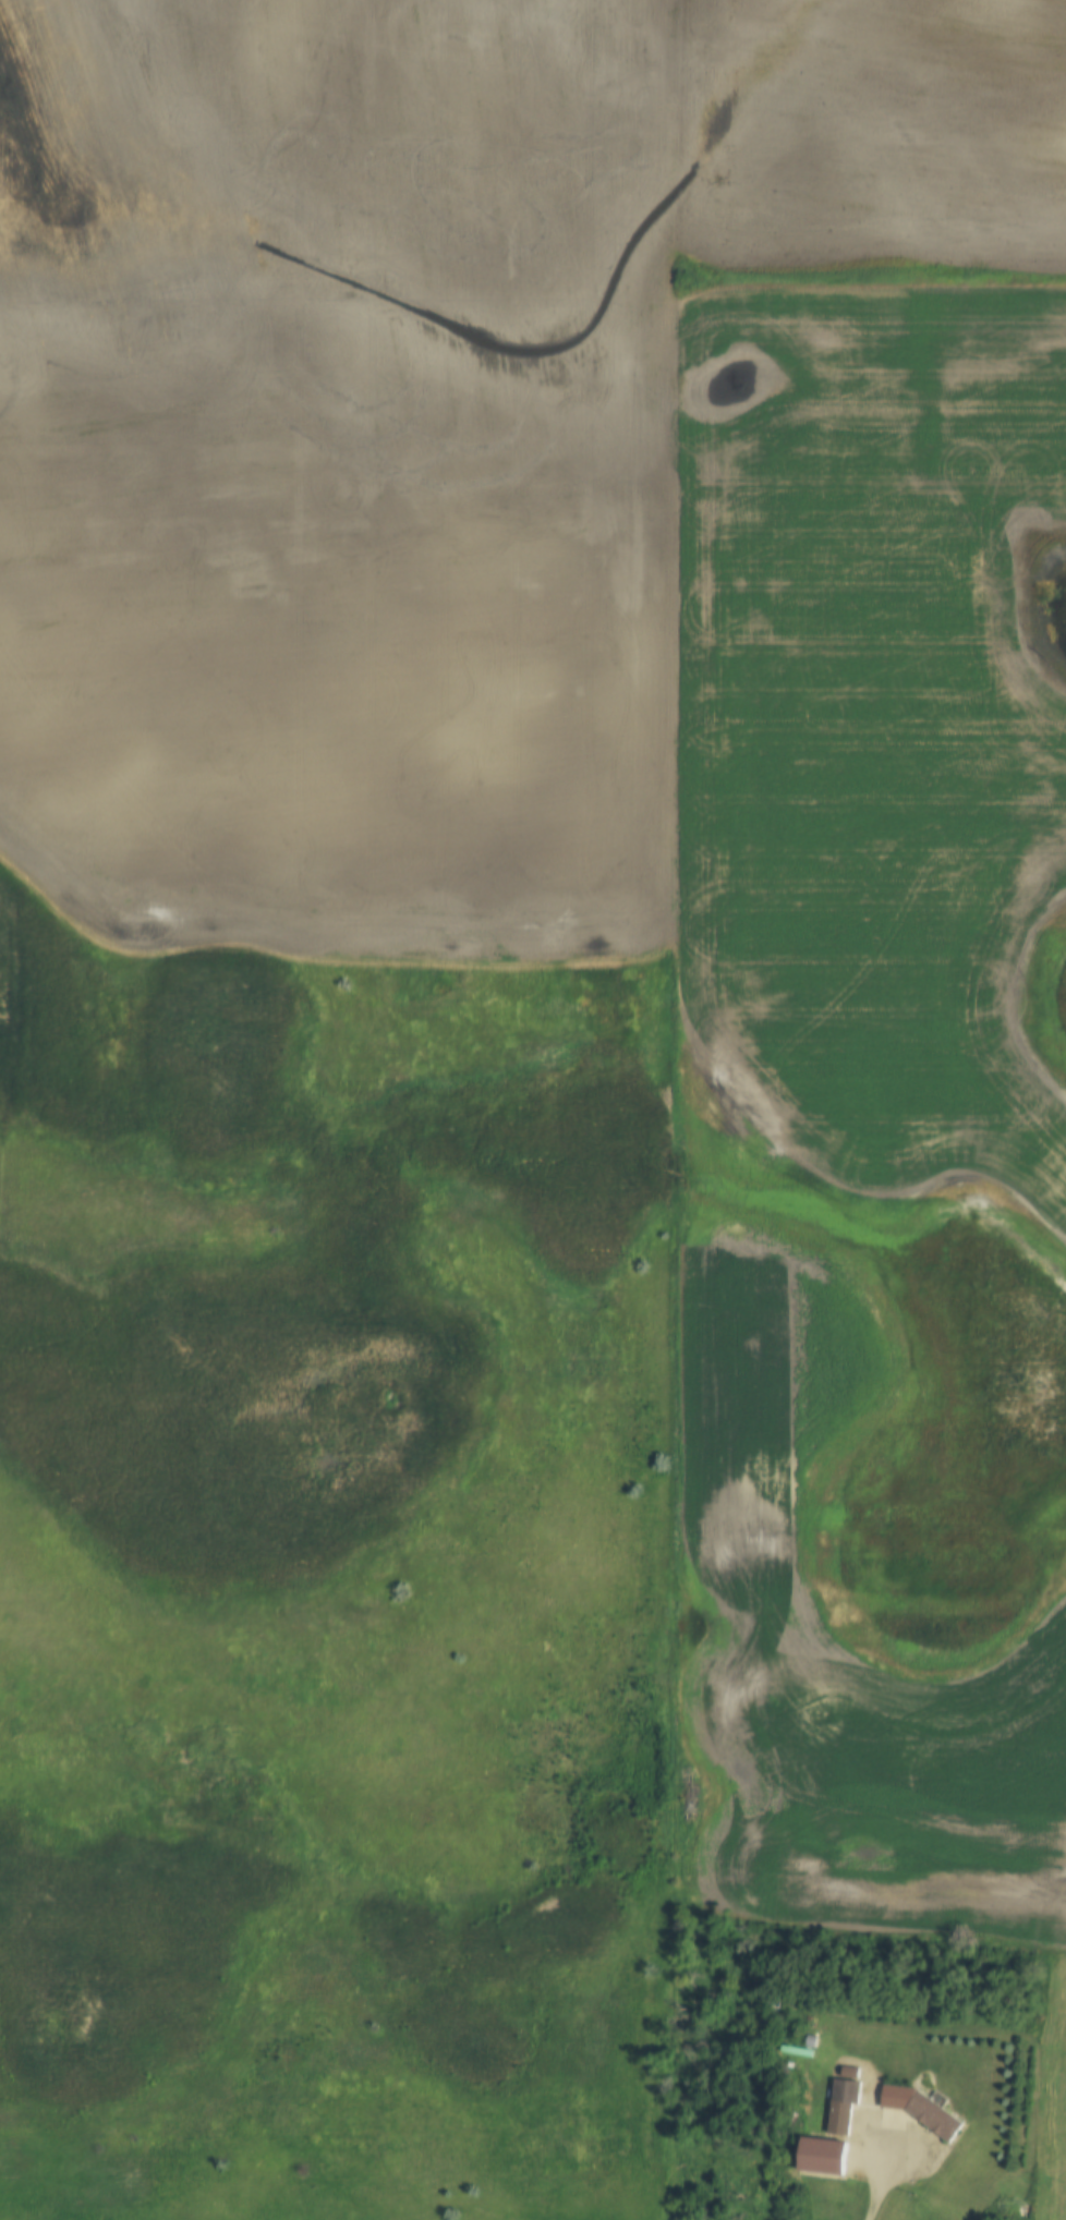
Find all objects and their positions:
building: (843, 2107)
building: (923, 2111)
road: (872, 2137)
building: (824, 2155)

